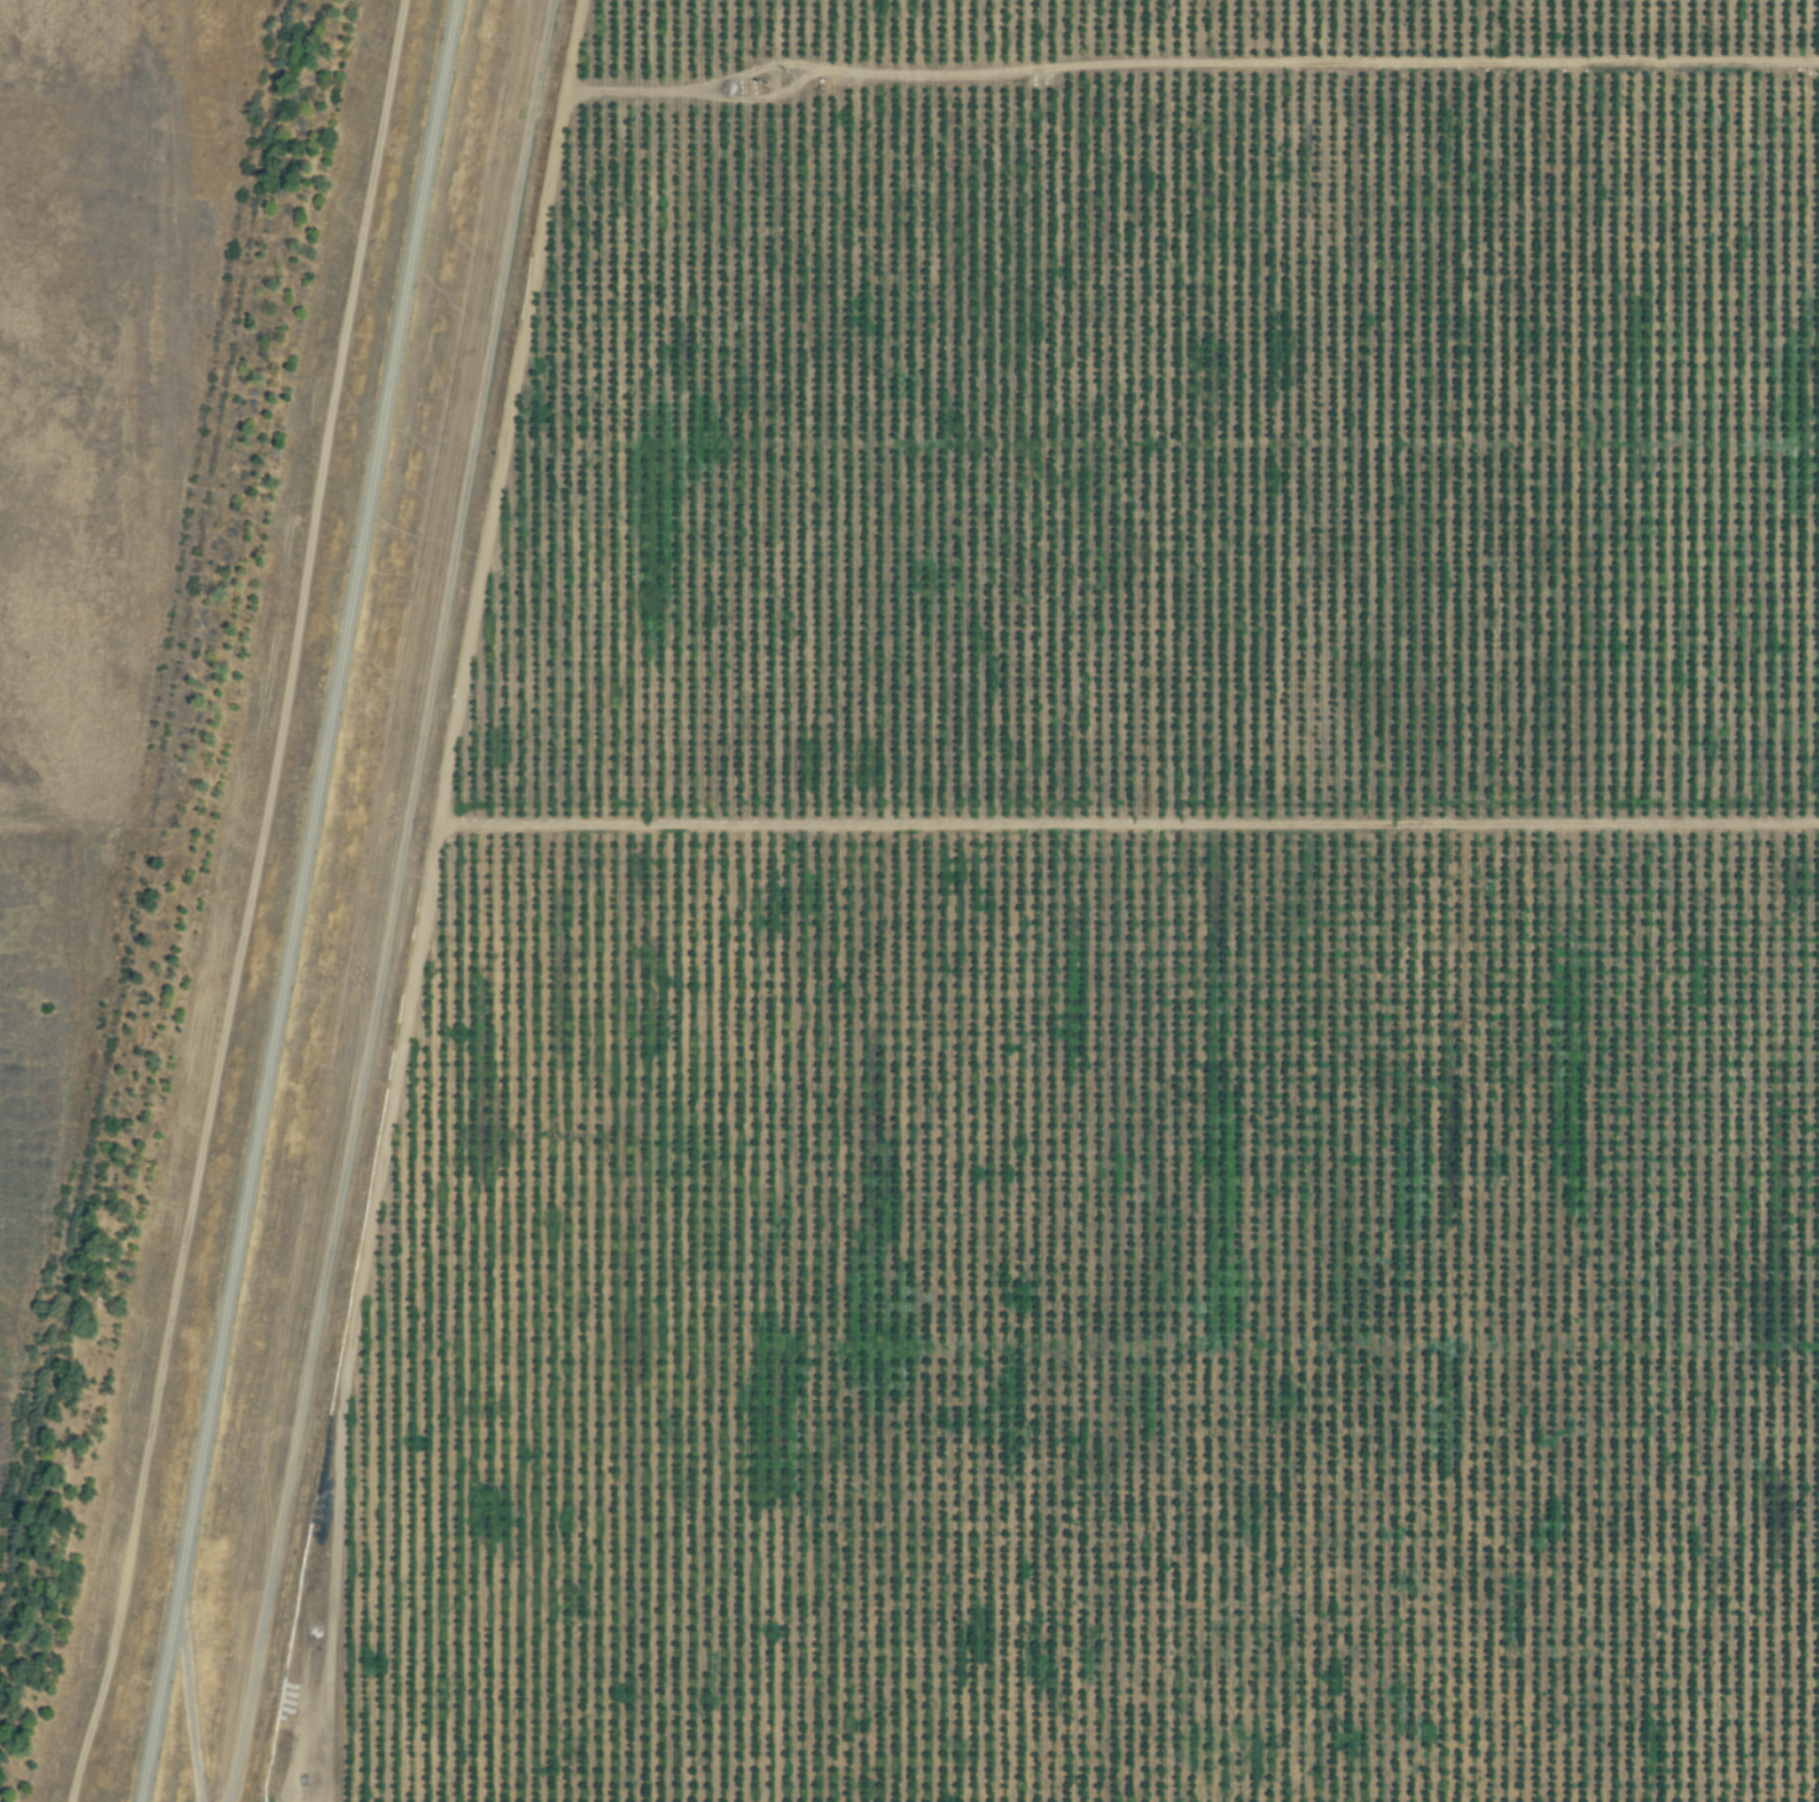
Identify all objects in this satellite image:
road: (1143, 822)

